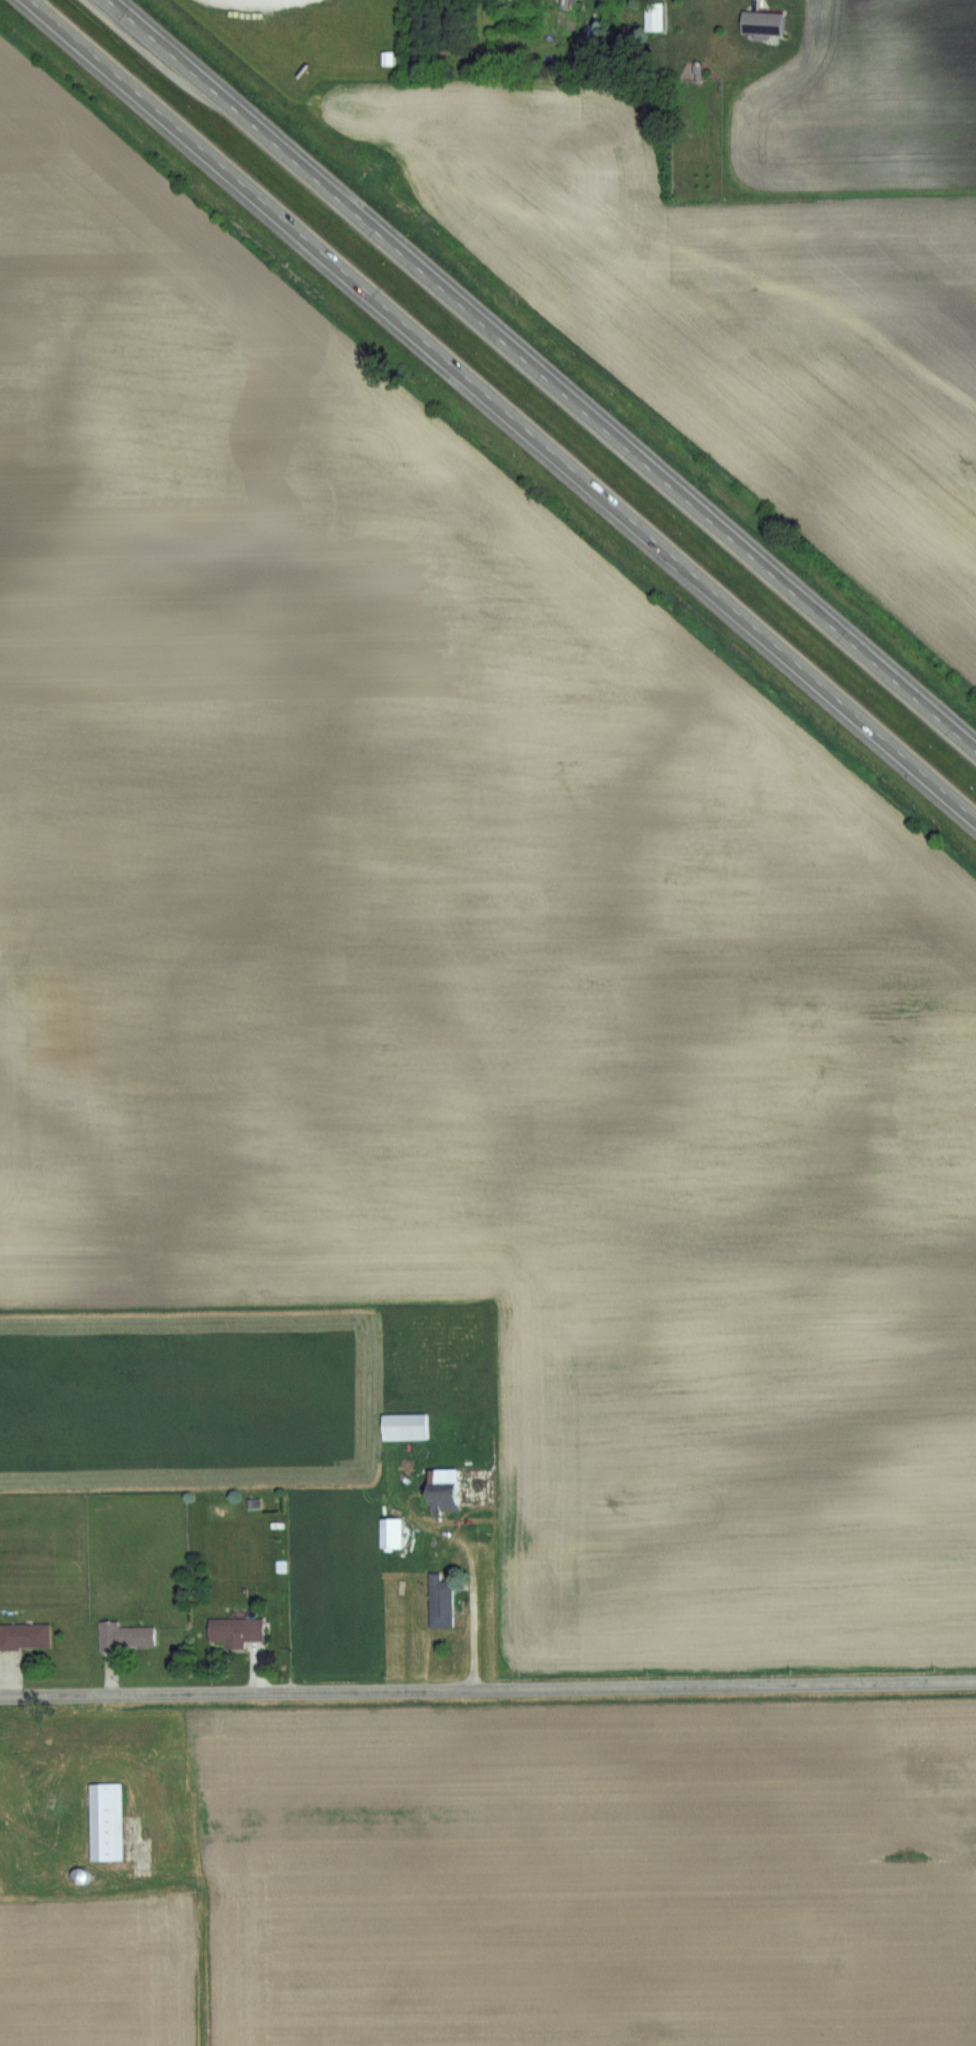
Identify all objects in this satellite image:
building: (654, 16)
building: (762, 22)
road: (541, 375)
road: (503, 409)
building: (405, 1426)
building: (443, 1490)
building: (391, 1532)
building: (440, 1599)
building: (235, 1631)
building: (25, 1635)
building: (125, 1635)
road: (488, 1690)
building: (106, 1821)

